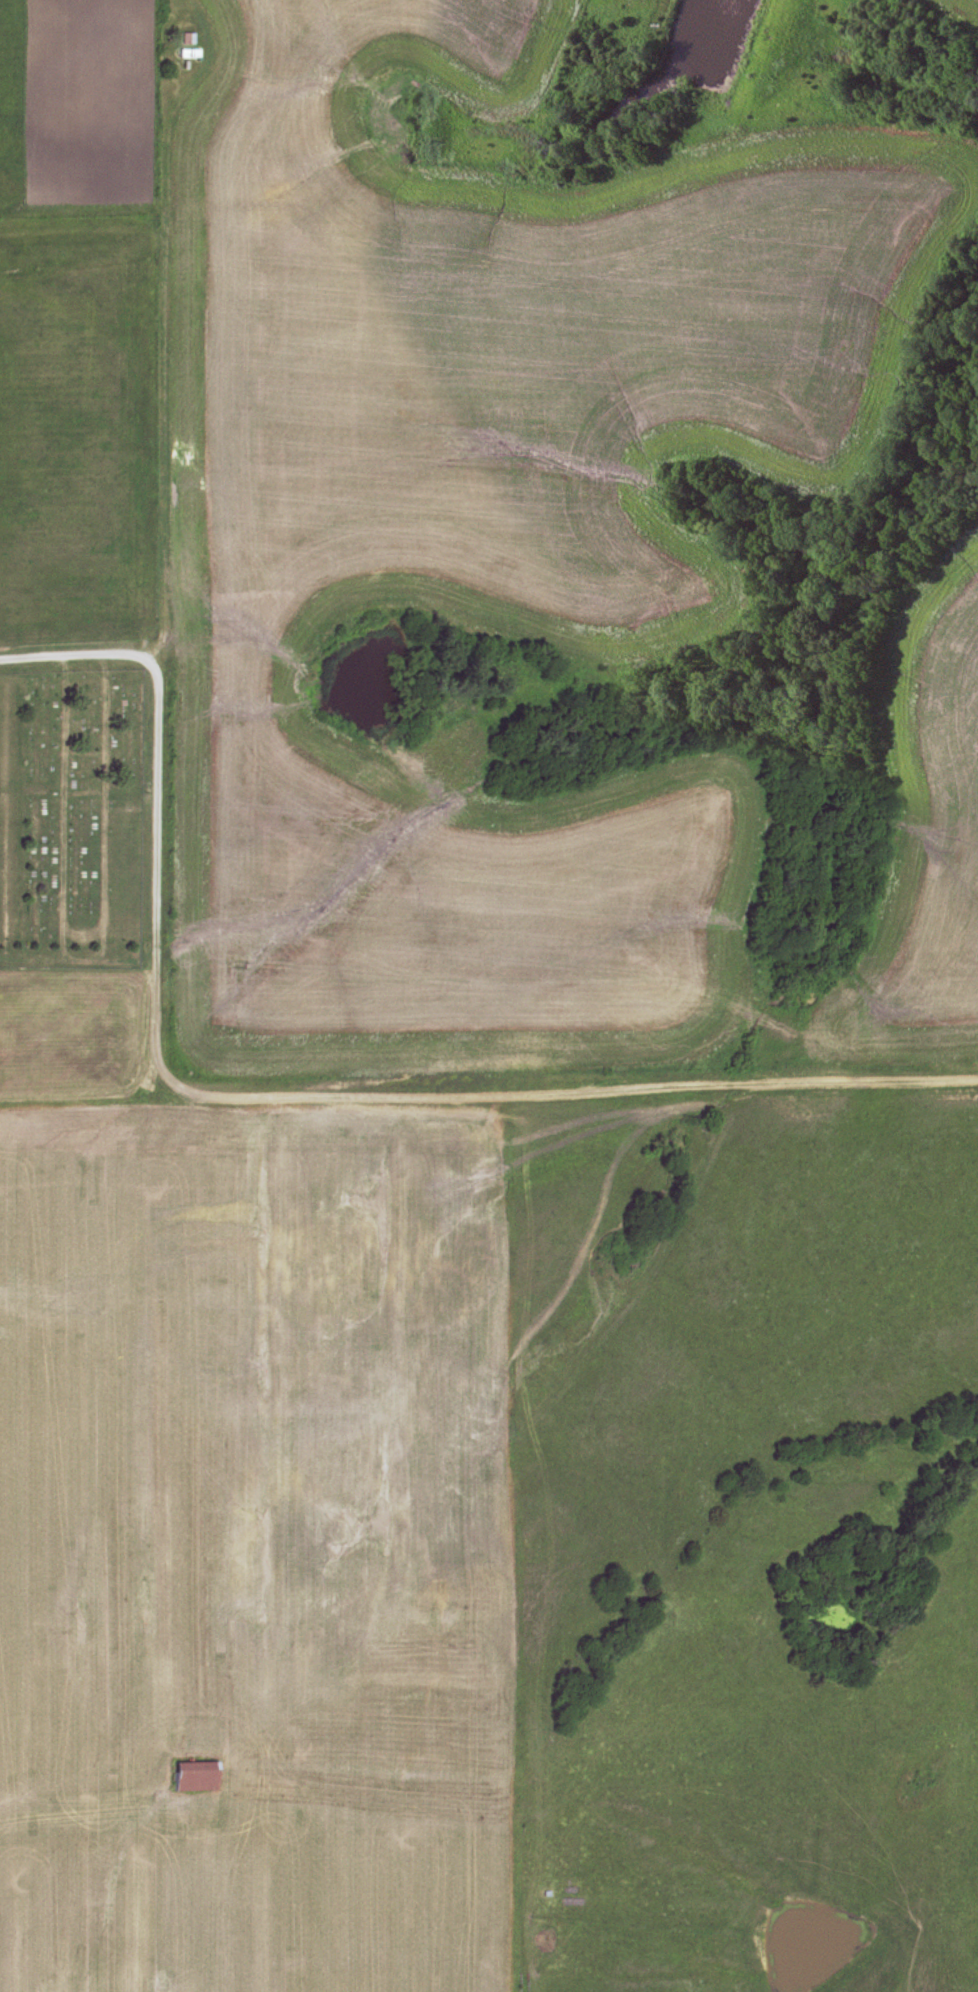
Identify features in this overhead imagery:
building: (185, 39)
building: (187, 53)
park: (70, 818)
road: (282, 1093)
building: (193, 1775)

